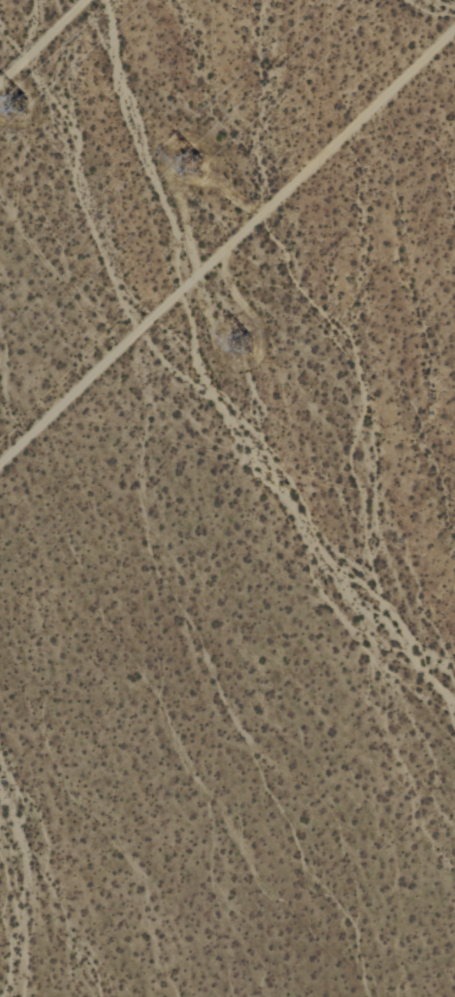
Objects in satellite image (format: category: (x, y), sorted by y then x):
road: (42, 40)
power tower: (8, 102)
power tower: (190, 168)
road: (227, 244)
power tower: (248, 338)

